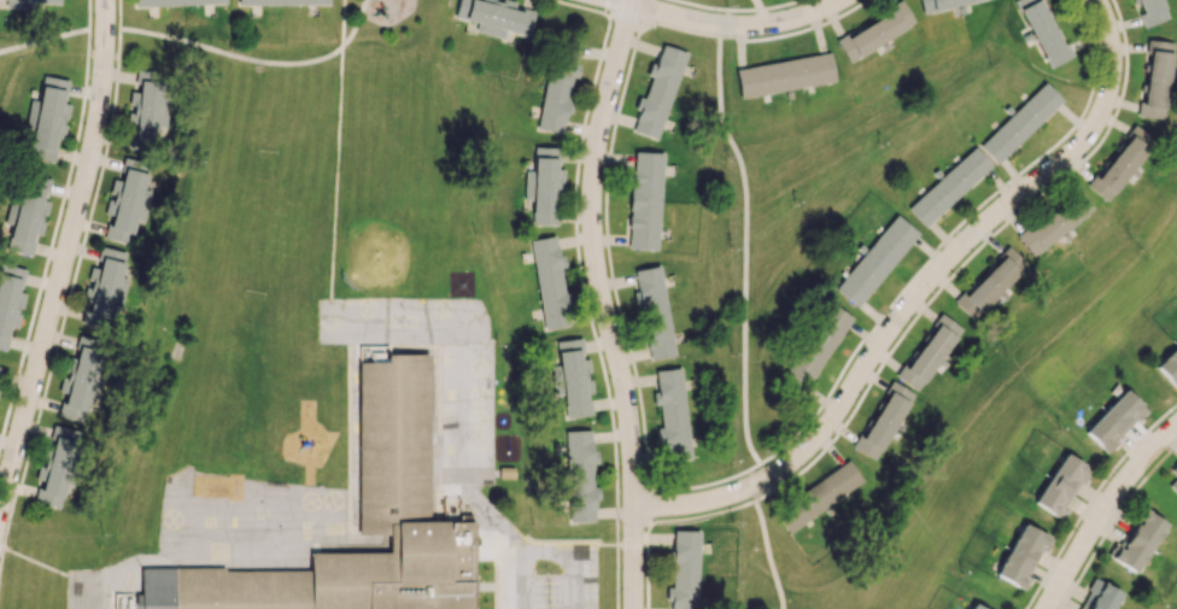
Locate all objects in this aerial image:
building: (175, 1)
building: (281, 1)
building: (35, 2)
building: (939, 4)
road: (584, 6)
building: (1150, 11)
road: (88, 14)
building: (496, 17)
road: (630, 18)
road: (340, 22)
road: (355, 23)
road: (728, 27)
road: (104, 28)
building: (1042, 30)
building: (874, 31)
road: (43, 39)
road: (230, 53)
building: (784, 75)
building: (1155, 80)
building: (557, 84)
building: (657, 92)
building: (147, 104)
building: (48, 117)
building: (1019, 122)
building: (1120, 163)
park: (259, 168)
road: (335, 171)
building: (544, 185)
building: (948, 186)
building: (644, 199)
building: (128, 203)
road: (745, 210)
building: (28, 212)
building: (1054, 222)
park: (399, 230)
road: (52, 239)
road: (66, 258)
building: (876, 260)
road: (580, 279)
building: (105, 283)
building: (550, 283)
building: (990, 283)
road: (919, 295)
building: (8, 300)
road: (602, 303)
road: (619, 308)
building: (652, 312)
building: (815, 346)
building: (929, 352)
building: (1169, 367)
park: (234, 369)
building: (83, 376)
building: (573, 377)
building: (555, 379)
building: (488, 382)
building: (671, 414)
building: (883, 420)
building: (1114, 420)
building: (58, 465)
building: (1173, 472)
building: (504, 473)
building: (579, 475)
building: (1060, 485)
building: (818, 496)
road: (645, 505)
road: (1101, 510)
road: (487, 511)
road: (692, 516)
building: (356, 523)
road: (527, 539)
building: (1136, 541)
road: (631, 544)
road: (515, 545)
road: (2, 549)
road: (485, 552)
road: (511, 554)
road: (574, 555)
road: (768, 555)
building: (1021, 555)
road: (36, 562)
building: (683, 569)
road: (616, 576)
road: (646, 576)
road: (521, 581)
parking lot: (550, 582)
building: (1097, 596)
building: (973, 607)

